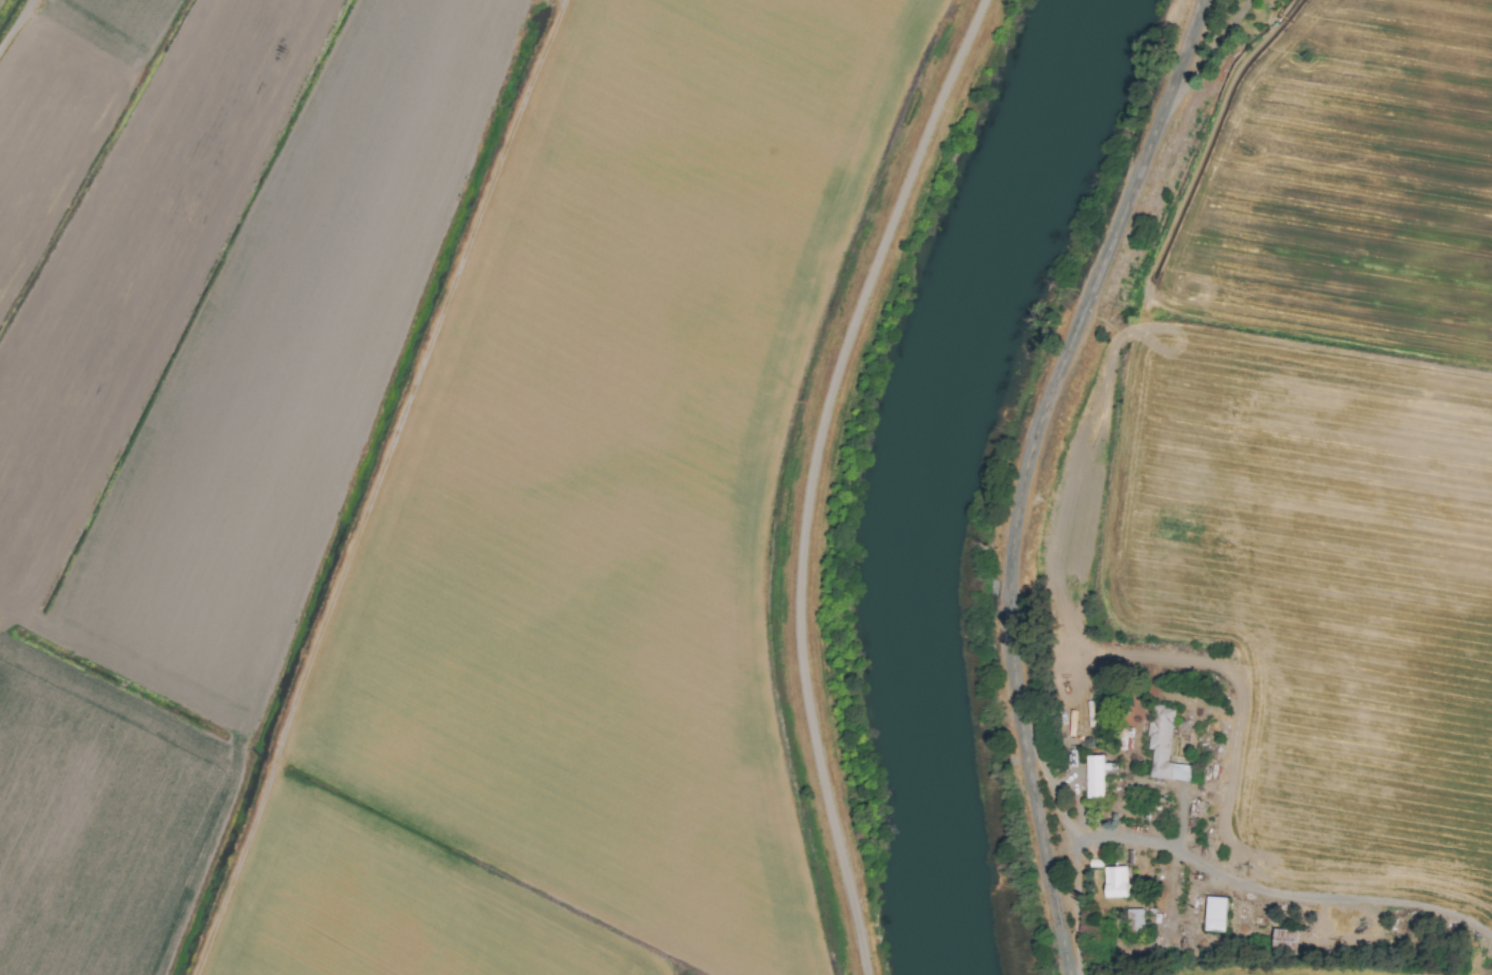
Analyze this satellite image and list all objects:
road: (16, 27)
road: (1209, 53)
road: (1026, 474)
road: (809, 475)
crop: (434, 478)
crop: (1287, 518)
building: (1163, 748)
building: (1095, 778)
road: (1074, 852)
building: (1116, 882)
road: (1280, 898)
building: (1216, 914)
building: (1134, 920)

